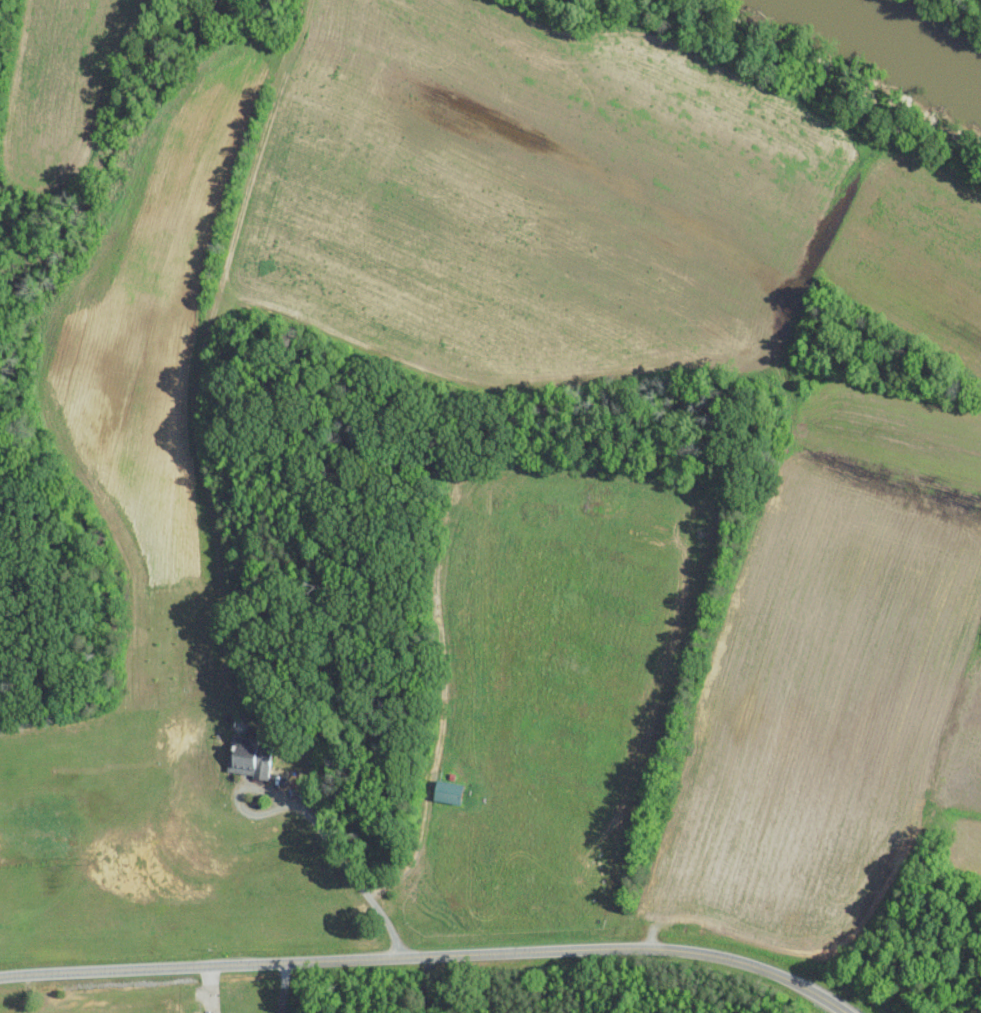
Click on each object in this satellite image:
river: (907, 35)
building: (245, 759)
building: (443, 790)
road: (340, 858)
road: (426, 957)

